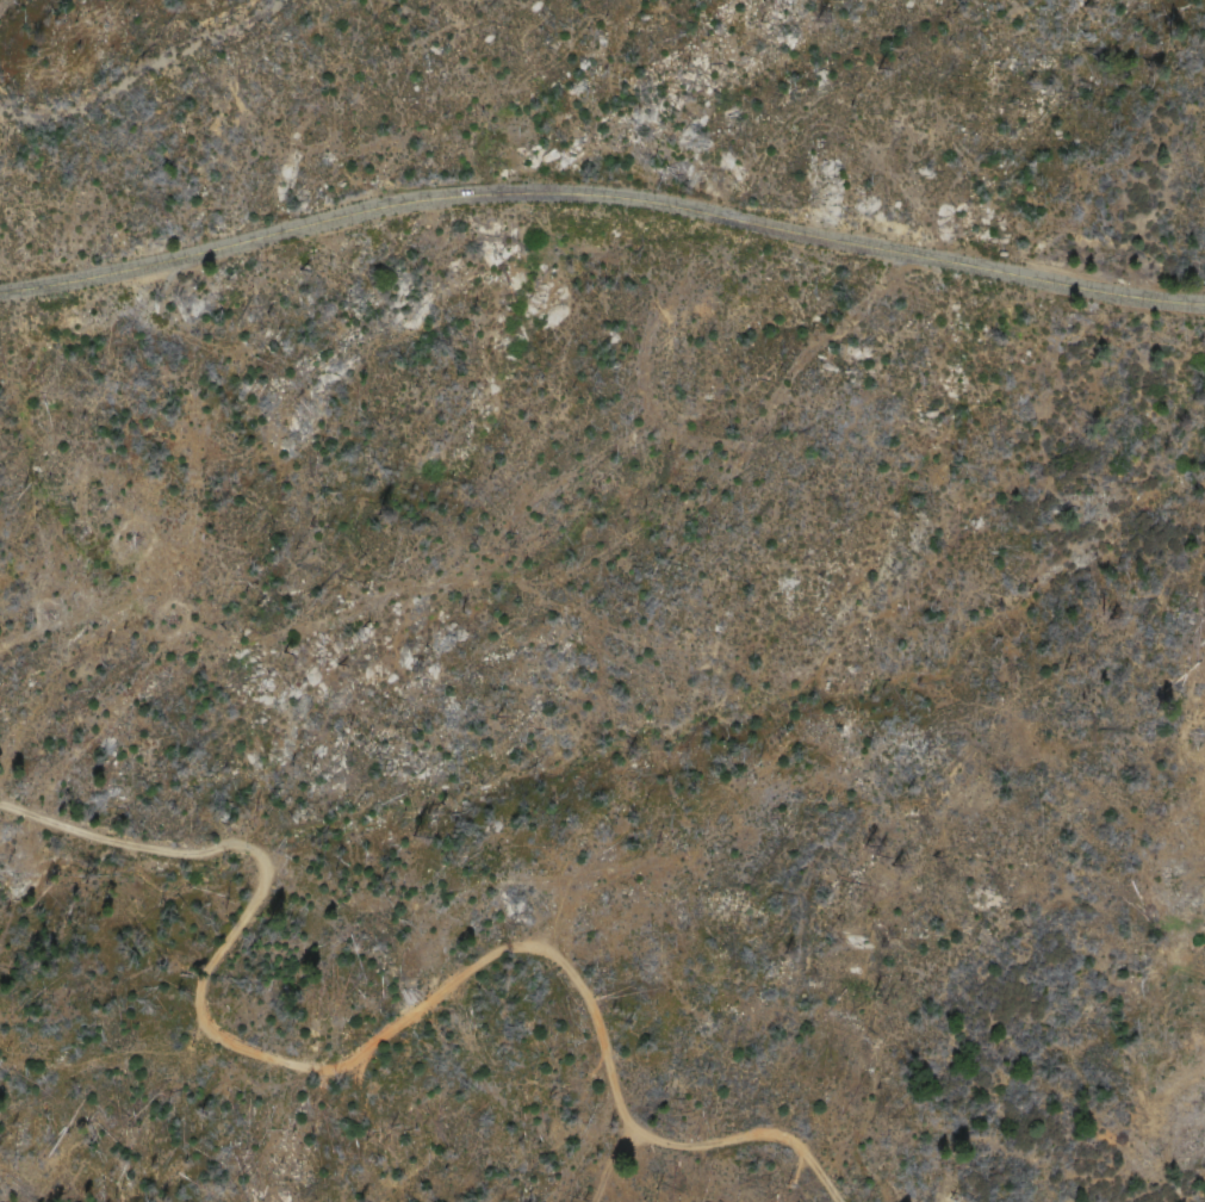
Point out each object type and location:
road: (601, 196)
road: (344, 1111)

